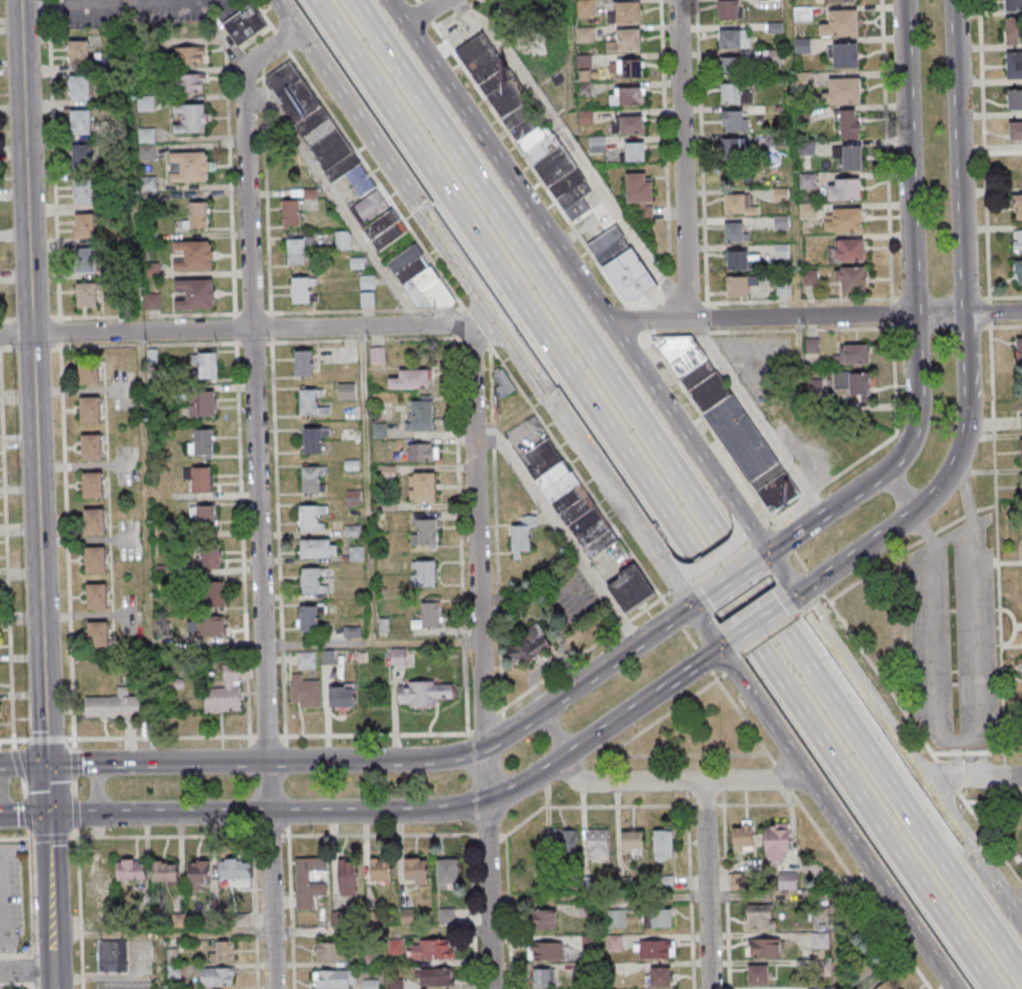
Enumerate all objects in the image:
building: (839, 0)
road: (141, 2)
road: (165, 3)
road: (81, 5)
building: (1012, 5)
building: (728, 9)
parking lot: (139, 12)
road: (422, 12)
building: (625, 12)
building: (802, 13)
building: (840, 23)
building: (241, 24)
building: (1014, 30)
building: (585, 34)
building: (734, 38)
building: (625, 40)
building: (143, 46)
road: (21, 53)
building: (75, 53)
building: (184, 55)
building: (843, 55)
building: (731, 65)
building: (1014, 65)
building: (630, 68)
building: (184, 83)
building: (77, 88)
building: (844, 90)
building: (289, 93)
building: (731, 93)
building: (627, 96)
building: (1015, 100)
building: (144, 103)
building: (188, 118)
building: (733, 120)
building: (309, 121)
building: (523, 121)
building: (78, 122)
building: (627, 124)
building: (850, 124)
building: (1015, 131)
building: (317, 132)
building: (145, 136)
building: (597, 144)
building: (734, 148)
building: (328, 149)
building: (635, 151)
building: (145, 153)
road: (574, 154)
building: (80, 157)
building: (851, 157)
road: (908, 157)
road: (959, 157)
road: (682, 159)
road: (497, 160)
building: (188, 166)
road: (245, 166)
building: (339, 168)
building: (357, 180)
building: (147, 184)
building: (844, 188)
building: (81, 191)
building: (308, 194)
building: (640, 194)
building: (147, 197)
road: (337, 201)
building: (738, 204)
building: (369, 207)
building: (1018, 207)
building: (288, 212)
building: (195, 216)
building: (844, 219)
building: (379, 224)
building: (82, 226)
building: (734, 232)
building: (147, 235)
building: (387, 235)
building: (341, 240)
building: (1017, 241)
building: (846, 250)
building: (293, 251)
building: (192, 255)
building: (402, 259)
building: (741, 259)
building: (83, 261)
building: (623, 262)
building: (355, 263)
building: (149, 270)
building: (410, 270)
building: (1018, 273)
building: (810, 277)
building: (851, 278)
building: (365, 282)
building: (737, 285)
building: (783, 288)
building: (300, 290)
building: (426, 290)
building: (193, 294)
building: (84, 295)
building: (365, 299)
building: (150, 302)
road: (814, 316)
road: (498, 323)
road: (372, 326)
road: (125, 332)
building: (1020, 349)
building: (347, 354)
building: (374, 355)
building: (853, 355)
building: (149, 356)
building: (203, 364)
building: (300, 364)
building: (85, 371)
road: (991, 376)
building: (154, 378)
building: (408, 379)
building: (854, 383)
building: (500, 384)
building: (343, 391)
building: (308, 403)
building: (200, 404)
building: (86, 409)
road: (362, 415)
building: (418, 415)
building: (1021, 415)
road: (755, 417)
building: (729, 421)
building: (376, 431)
road: (913, 431)
road: (523, 433)
road: (34, 436)
building: (311, 440)
building: (198, 443)
building: (88, 447)
building: (1021, 450)
building: (417, 453)
building: (541, 458)
road: (701, 459)
building: (349, 466)
building: (385, 471)
building: (549, 477)
building: (196, 479)
building: (310, 479)
building: (89, 485)
building: (1021, 485)
building: (420, 488)
building: (558, 488)
road: (940, 488)
road: (686, 489)
road: (898, 491)
road: (591, 494)
road: (653, 494)
building: (351, 498)
building: (566, 499)
building: (386, 506)
building: (574, 510)
building: (199, 519)
building: (308, 519)
building: (90, 522)
building: (582, 523)
road: (558, 527)
road: (742, 527)
building: (159, 530)
building: (350, 531)
road: (798, 531)
building: (422, 533)
building: (590, 534)
building: (520, 536)
building: (597, 545)
building: (314, 549)
road: (660, 553)
traffic signals: (767, 553)
building: (354, 554)
building: (207, 556)
road: (6, 557)
road: (710, 558)
road: (759, 558)
road: (893, 559)
building: (91, 560)
building: (160, 570)
building: (420, 575)
building: (311, 580)
road: (728, 580)
building: (627, 590)
building: (380, 591)
building: (208, 594)
traffic signals: (796, 596)
building: (93, 597)
road: (788, 600)
road: (697, 601)
traffic signals: (691, 606)
building: (512, 608)
building: (426, 616)
building: (306, 619)
road: (757, 622)
park: (875, 623)
road: (816, 625)
building: (381, 626)
building: (204, 627)
building: (161, 629)
building: (349, 632)
building: (94, 635)
road: (767, 635)
road: (901, 635)
road: (370, 643)
road: (727, 643)
building: (529, 646)
traffic signals: (720, 648)
road: (480, 650)
building: (348, 656)
building: (395, 656)
building: (360, 657)
building: (325, 658)
road: (262, 659)
road: (702, 660)
building: (303, 661)
building: (1021, 667)
road: (878, 678)
building: (176, 684)
building: (221, 693)
building: (303, 693)
building: (420, 694)
building: (338, 698)
building: (109, 706)
road: (666, 712)
road: (556, 730)
road: (385, 734)
road: (975, 734)
road: (47, 738)
road: (14, 739)
road: (497, 739)
road: (73, 742)
road: (1012, 752)
road: (966, 753)
road: (73, 762)
road: (155, 763)
road: (17, 764)
road: (22, 765)
traffic signals: (46, 765)
road: (943, 776)
road: (971, 778)
road: (679, 782)
road: (97, 785)
road: (722, 785)
road: (24, 786)
road: (687, 786)
road: (74, 787)
road: (929, 789)
road: (1, 790)
road: (46, 790)
road: (494, 797)
road: (992, 802)
road: (758, 803)
road: (705, 804)
road: (592, 805)
road: (75, 811)
road: (26, 812)
road: (185, 814)
road: (74, 815)
road: (23, 816)
traffic signals: (47, 816)
road: (837, 818)
road: (377, 834)
road: (488, 834)
road: (171, 836)
road: (15, 838)
road: (48, 838)
building: (739, 839)
building: (773, 841)
road: (989, 841)
building: (596, 843)
building: (630, 843)
building: (562, 844)
building: (660, 846)
building: (231, 870)
building: (127, 871)
building: (161, 872)
building: (377, 872)
building: (413, 872)
building: (444, 874)
building: (196, 875)
building: (752, 877)
building: (344, 878)
building: (101, 879)
building: (785, 881)
building: (306, 882)
building: (736, 882)
building: (585, 884)
building: (663, 884)
road: (706, 884)
building: (554, 885)
building: (622, 885)
road: (726, 889)
road: (690, 890)
road: (28, 893)
road: (1012, 894)
parking lot: (8, 899)
road: (79, 900)
road: (51, 902)
road: (254, 907)
road: (290, 907)
road: (472, 911)
road: (508, 911)
building: (584, 911)
building: (818, 915)
building: (405, 917)
building: (444, 917)
building: (757, 917)
building: (210, 919)
building: (339, 919)
building: (370, 919)
building: (614, 919)
building: (655, 919)
building: (541, 920)
building: (238, 921)
building: (176, 922)
road: (131, 933)
building: (818, 941)
building: (586, 943)
building: (612, 943)
building: (392, 947)
building: (762, 949)
building: (430, 950)
building: (651, 950)
building: (328, 952)
building: (545, 952)
building: (220, 953)
building: (170, 956)
building: (110, 957)
building: (369, 959)
building: (821, 968)
road: (31, 970)
building: (585, 970)
road: (27, 971)
building: (171, 972)
building: (755, 976)
road: (81, 977)
building: (214, 978)
building: (432, 978)
building: (538, 978)
building: (658, 978)
building: (331, 979)
parking lot: (129, 984)
building: (368, 984)
building: (394, 984)
road: (82, 985)
building: (887, 985)
road: (32, 987)
building: (825, 988)

